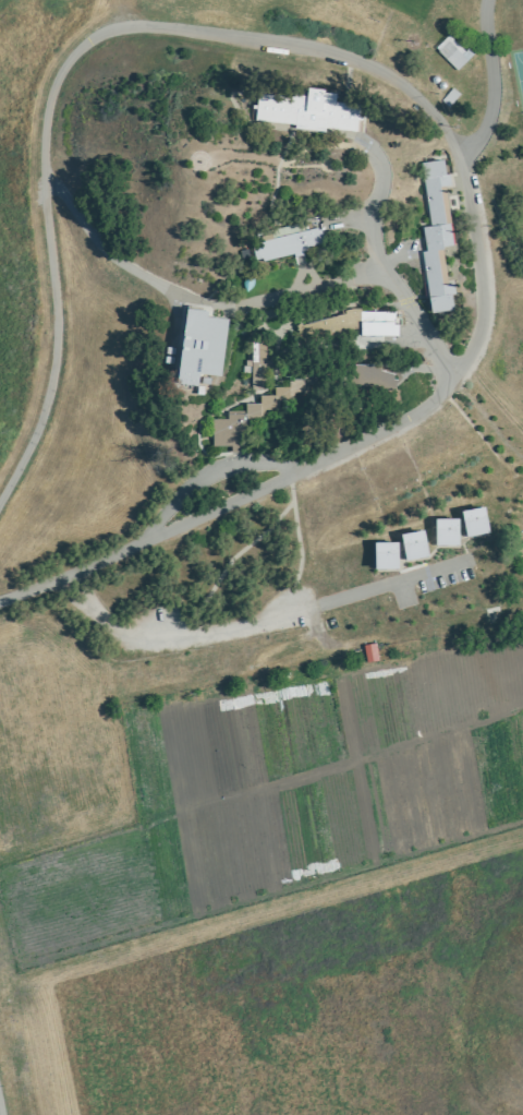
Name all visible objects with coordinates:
building: (452, 52)
road: (490, 82)
road: (412, 92)
building: (312, 109)
building: (435, 238)
building: (290, 244)
road: (384, 271)
road: (194, 299)
building: (327, 344)
building: (200, 348)
building: (373, 379)
building: (264, 411)
road: (208, 475)
building: (475, 523)
building: (448, 533)
building: (415, 547)
building: (387, 557)
road: (257, 621)
building: (370, 651)

